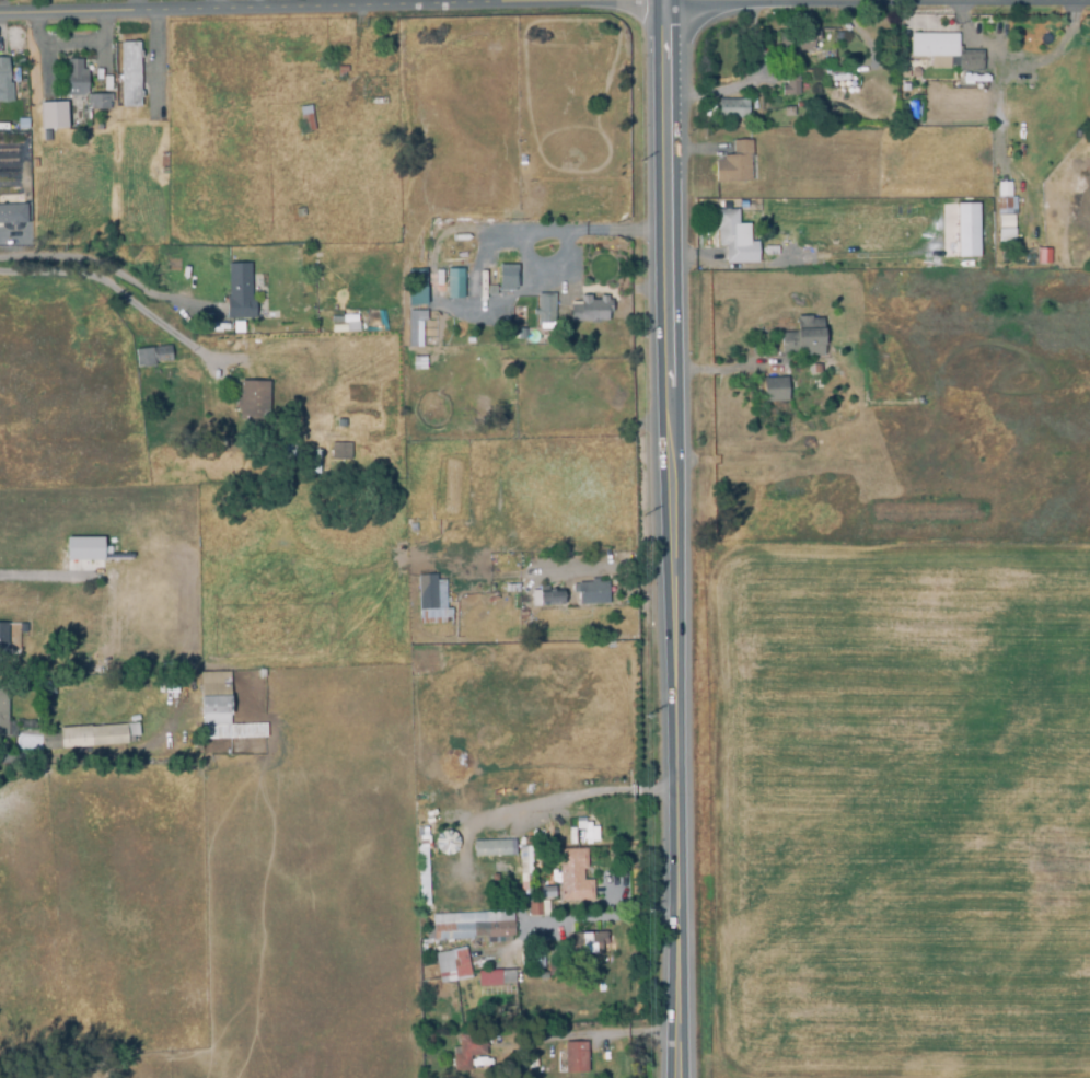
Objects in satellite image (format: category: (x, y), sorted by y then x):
road: (260, 15)
building: (797, 42)
building: (336, 49)
building: (934, 49)
building: (970, 60)
building: (340, 71)
building: (3, 73)
building: (130, 74)
building: (76, 79)
road: (744, 80)
building: (790, 86)
building: (98, 102)
building: (732, 109)
building: (788, 113)
building: (51, 116)
building: (308, 119)
building: (23, 125)
road: (182, 142)
building: (163, 161)
building: (734, 164)
building: (1004, 205)
building: (298, 213)
building: (12, 215)
building: (1005, 227)
building: (966, 229)
road: (547, 230)
building: (731, 236)
building: (1042, 255)
road: (113, 270)
building: (509, 275)
building: (156, 283)
building: (419, 283)
building: (455, 283)
road: (116, 289)
building: (239, 297)
building: (590, 310)
building: (546, 311)
building: (455, 318)
building: (336, 321)
building: (413, 325)
building: (237, 327)
building: (265, 331)
building: (835, 332)
building: (790, 344)
building: (858, 345)
building: (151, 357)
building: (417, 362)
road: (722, 370)
building: (780, 378)
building: (813, 384)
building: (741, 391)
building: (252, 401)
road: (166, 425)
building: (340, 452)
building: (364, 452)
road: (668, 538)
building: (409, 544)
building: (83, 548)
road: (617, 568)
road: (39, 577)
building: (591, 592)
building: (546, 596)
building: (522, 598)
building: (432, 602)
building: (523, 615)
building: (91, 624)
building: (460, 624)
building: (65, 625)
building: (2, 640)
building: (212, 698)
building: (3, 711)
building: (231, 731)
building: (81, 740)
building: (53, 743)
road: (96, 754)
road: (585, 792)
building: (590, 832)
building: (444, 843)
building: (492, 848)
building: (524, 866)
building: (421, 877)
building: (573, 877)
building: (546, 891)
building: (535, 909)
building: (474, 930)
building: (589, 943)
building: (451, 964)
building: (495, 978)
building: (503, 1013)
building: (467, 1053)
building: (576, 1056)

